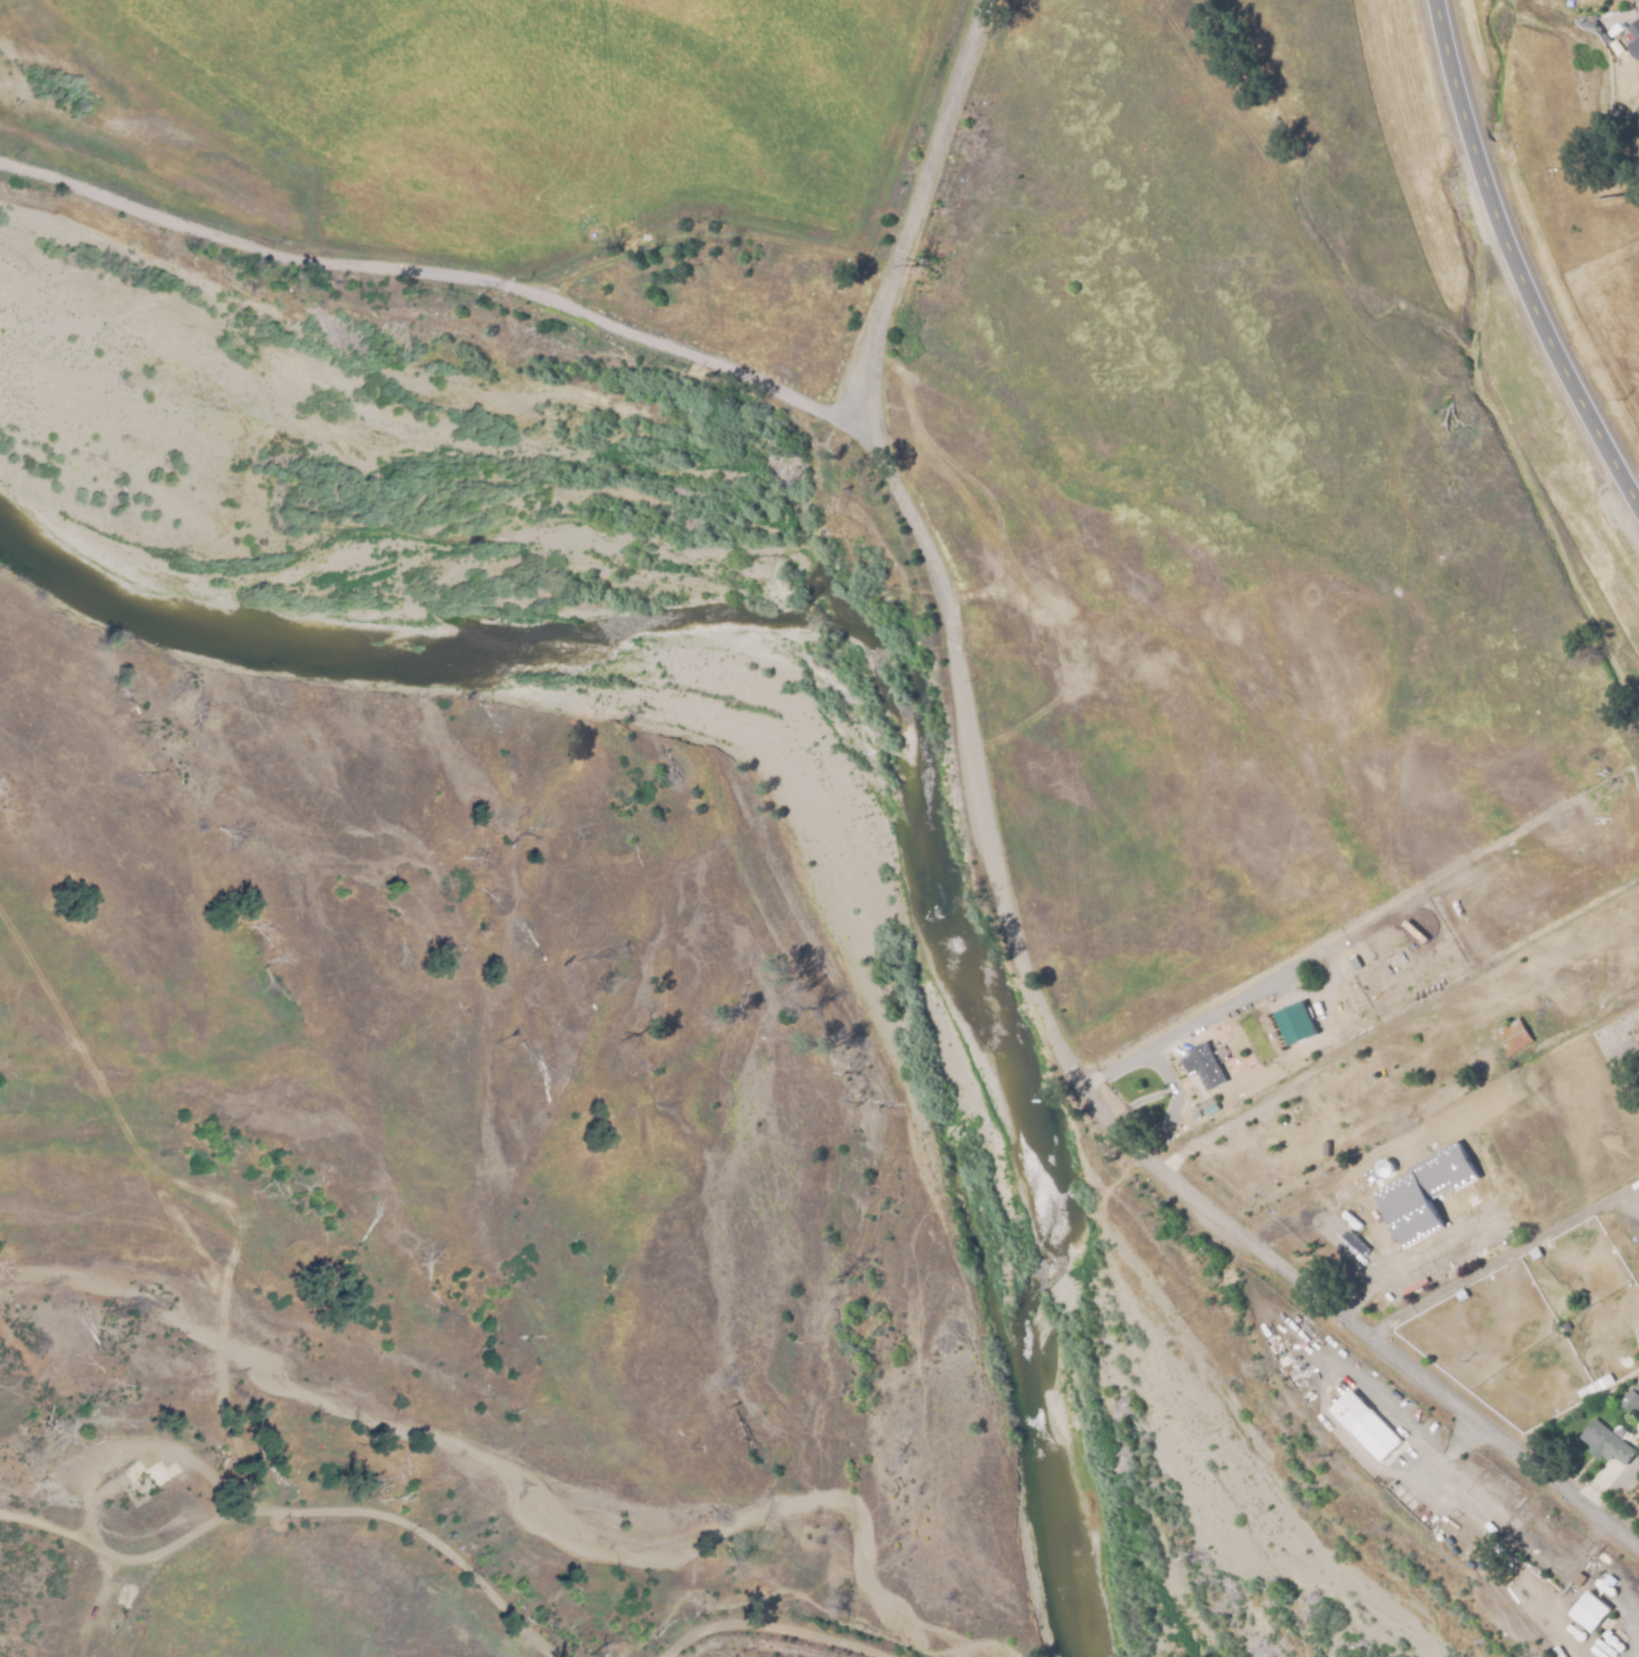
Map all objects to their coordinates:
building: (1636, 0)
building: (1635, 36)
road: (1516, 261)
road: (440, 295)
road: (1000, 896)
building: (1353, 963)
building: (1333, 978)
building: (1306, 1016)
road: (1185, 1028)
building: (1512, 1036)
building: (1203, 1062)
building: (1243, 1071)
building: (1307, 1082)
building: (1254, 1091)
road: (1173, 1102)
building: (1316, 1112)
building: (1195, 1116)
building: (1431, 1189)
building: (1397, 1204)
parking lot: (1420, 1251)
building: (1533, 1254)
road: (1498, 1260)
building: (1460, 1295)
building: (1630, 1401)
building: (1366, 1428)
building: (1604, 1444)
road: (301, 1506)
building: (1605, 1584)
building: (1589, 1613)
road: (790, 1626)

